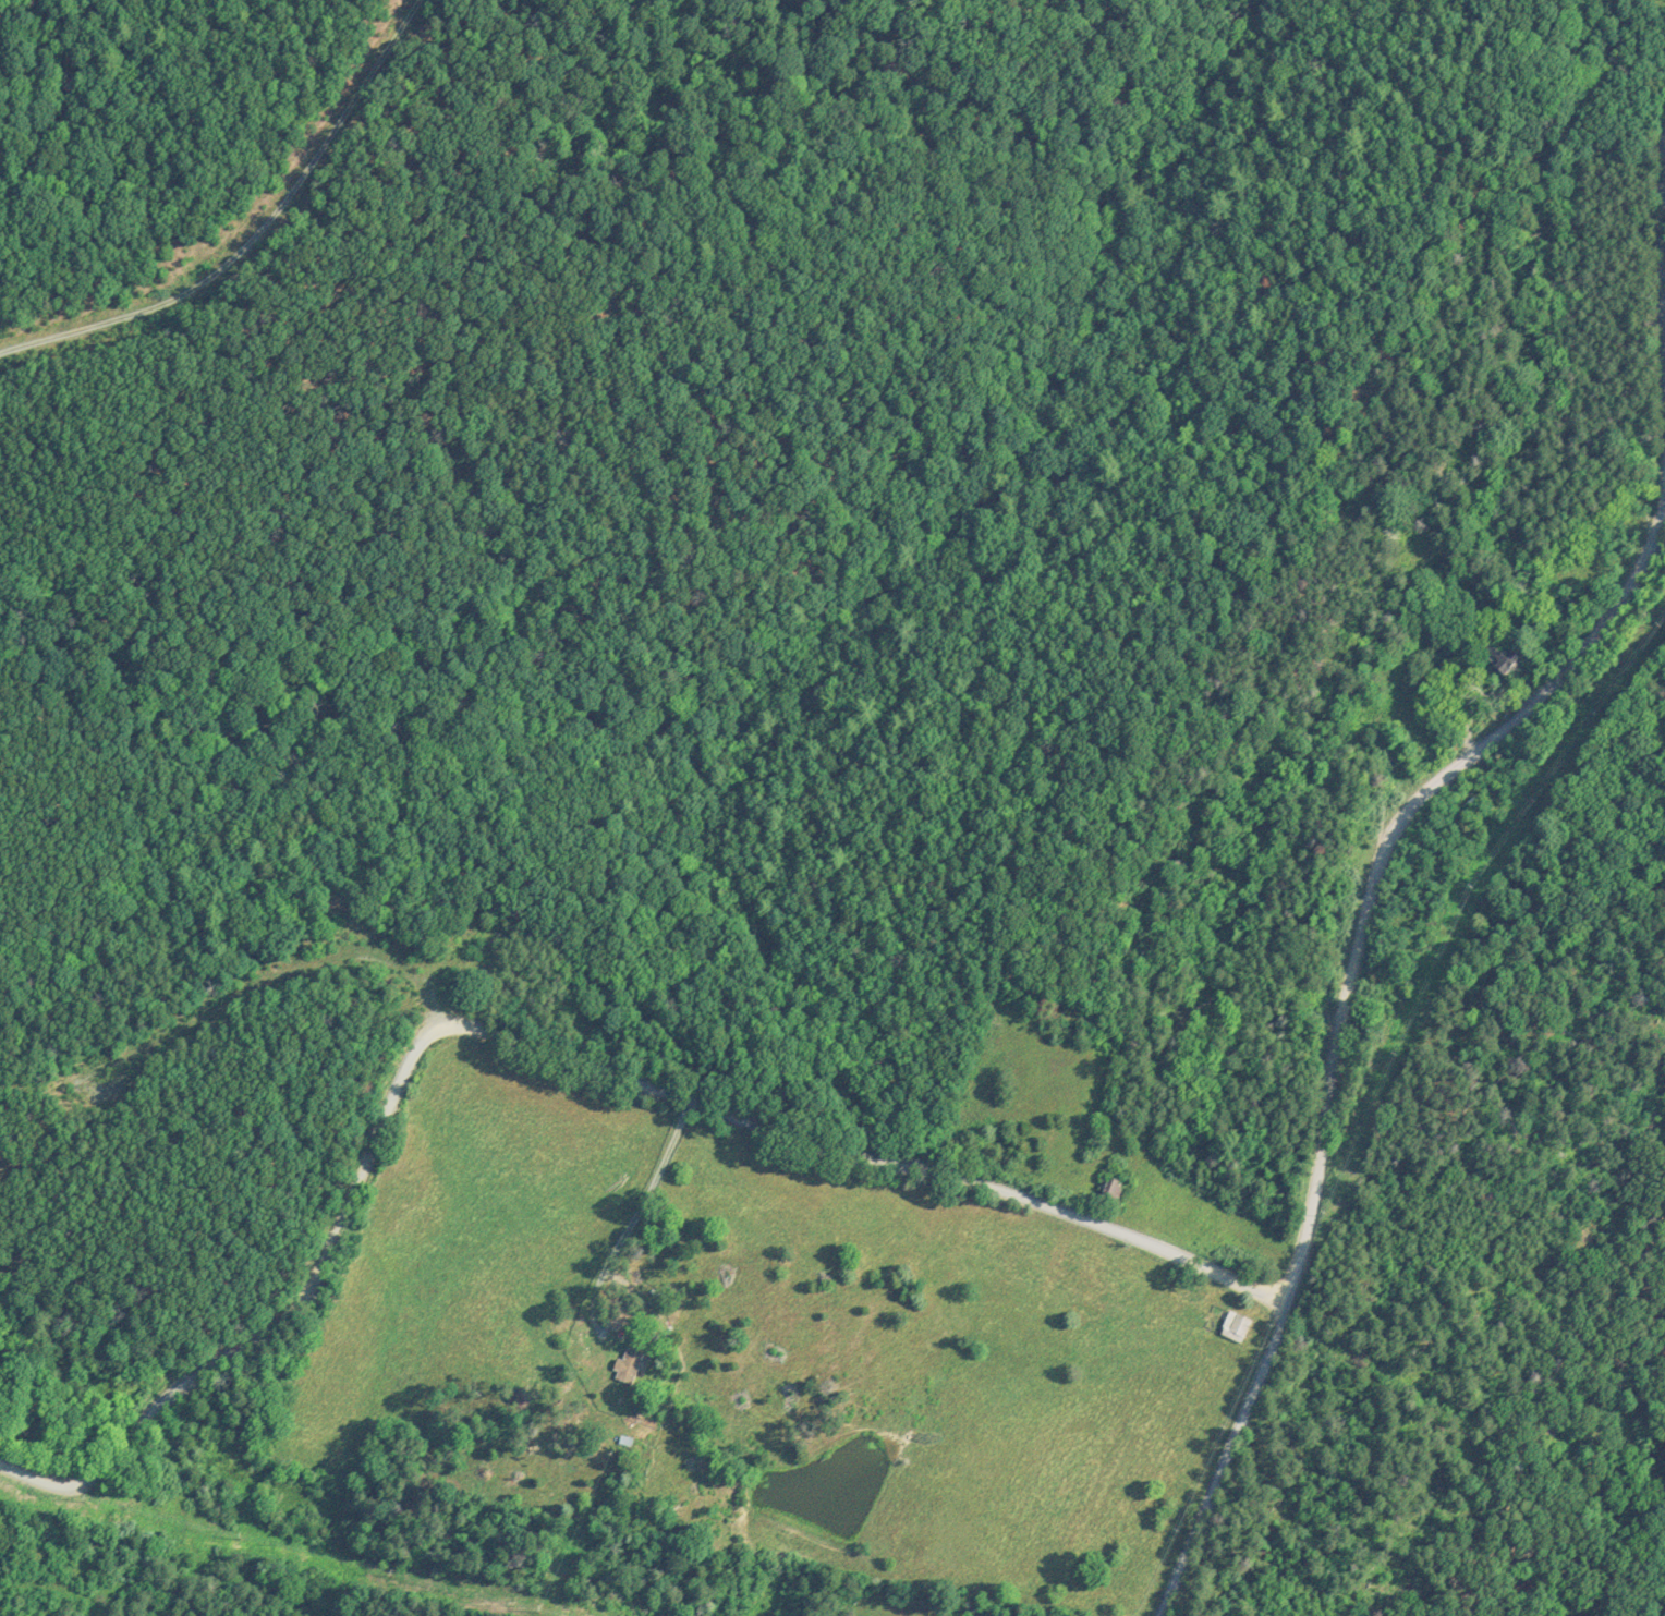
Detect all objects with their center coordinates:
road: (254, 232)
road: (1430, 846)
road: (549, 1042)
building: (1107, 1191)
building: (1233, 1325)
building: (625, 1364)
road: (1227, 1459)

